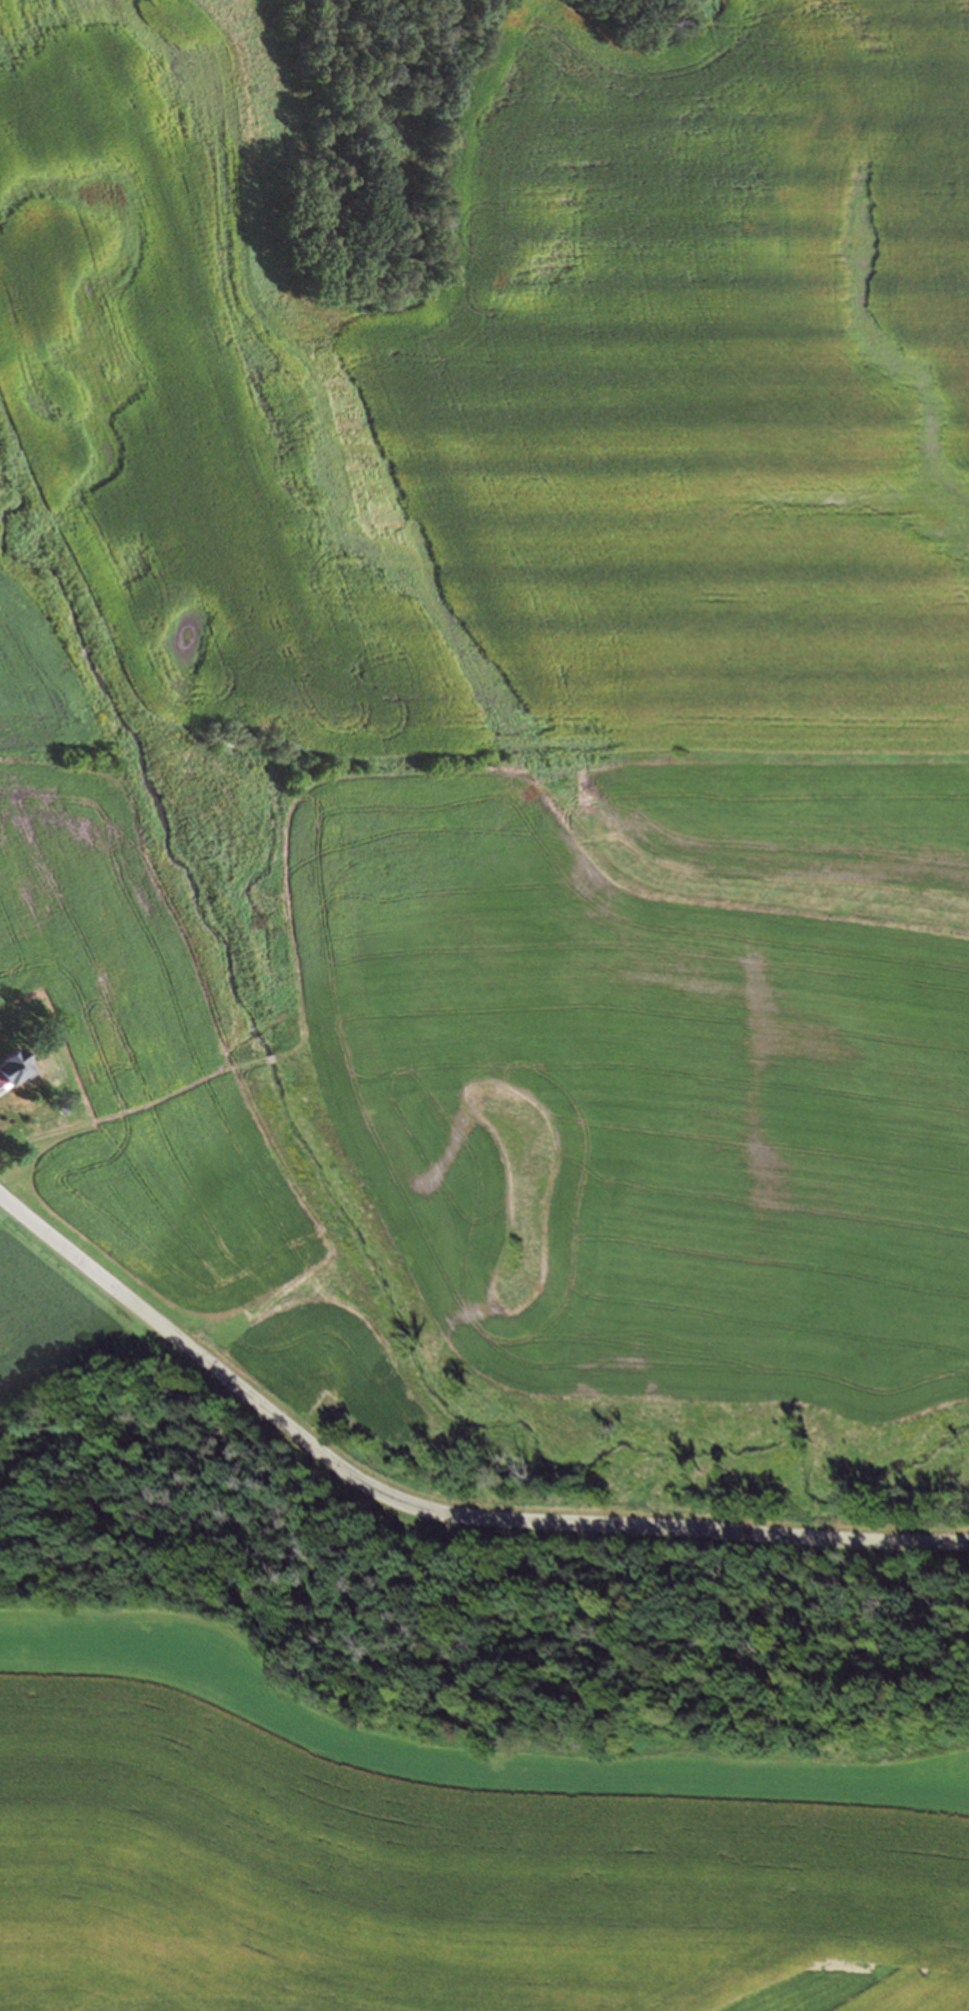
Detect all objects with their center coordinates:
building: (13, 1068)
river: (293, 1134)
road: (432, 1510)

